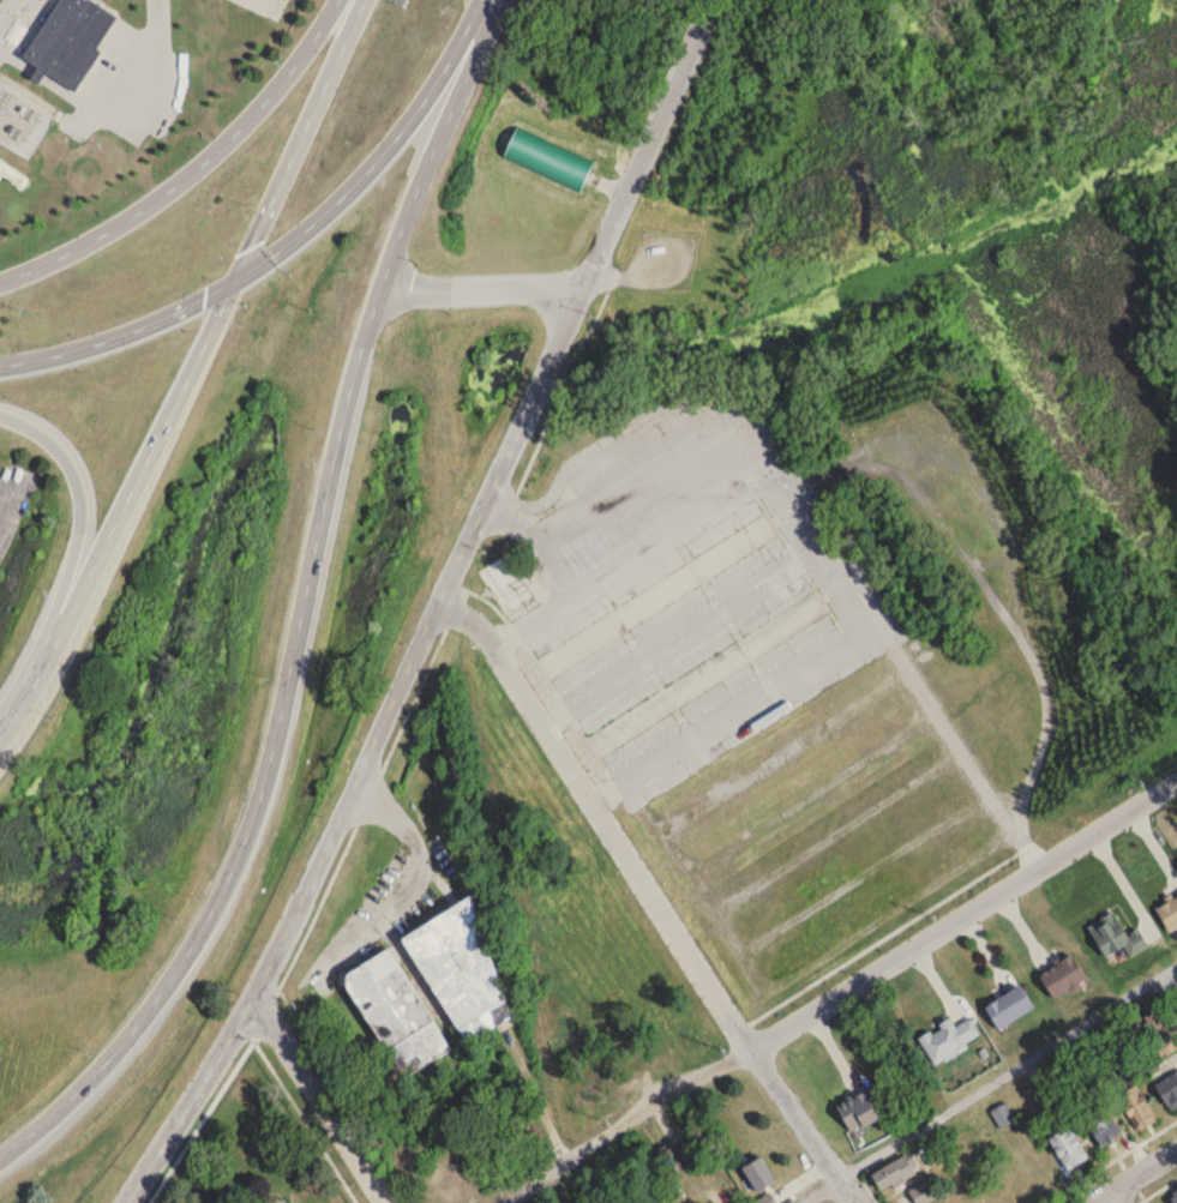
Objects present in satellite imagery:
building: (70, 38)
road: (16, 59)
road: (37, 73)
road: (134, 100)
power substation: (22, 116)
building: (547, 157)
road: (194, 170)
park: (956, 225)
road: (287, 242)
road: (480, 287)
road: (188, 373)
road: (806, 519)
road: (74, 541)
building: (508, 581)
parking lot: (690, 587)
building: (657, 596)
road: (434, 608)
road: (302, 610)
building: (707, 674)
road: (412, 876)
road: (1122, 885)
road: (653, 894)
building: (1169, 915)
building: (1115, 937)
road: (1171, 967)
building: (458, 969)
building: (1062, 978)
road: (1171, 980)
road: (843, 994)
building: (1008, 1007)
building: (395, 1015)
building: (948, 1040)
building: (1160, 1043)
road: (999, 1073)
building: (1169, 1091)
road: (322, 1100)
building: (1135, 1108)
building: (857, 1112)
building: (1003, 1115)
building: (1103, 1129)
building: (1067, 1148)
building: (672, 1160)
road: (1110, 1160)
building: (757, 1174)
building: (891, 1174)
road: (1134, 1175)
road: (1158, 1187)
building: (1176, 1190)
building: (924, 1192)
building: (1175, 1202)

